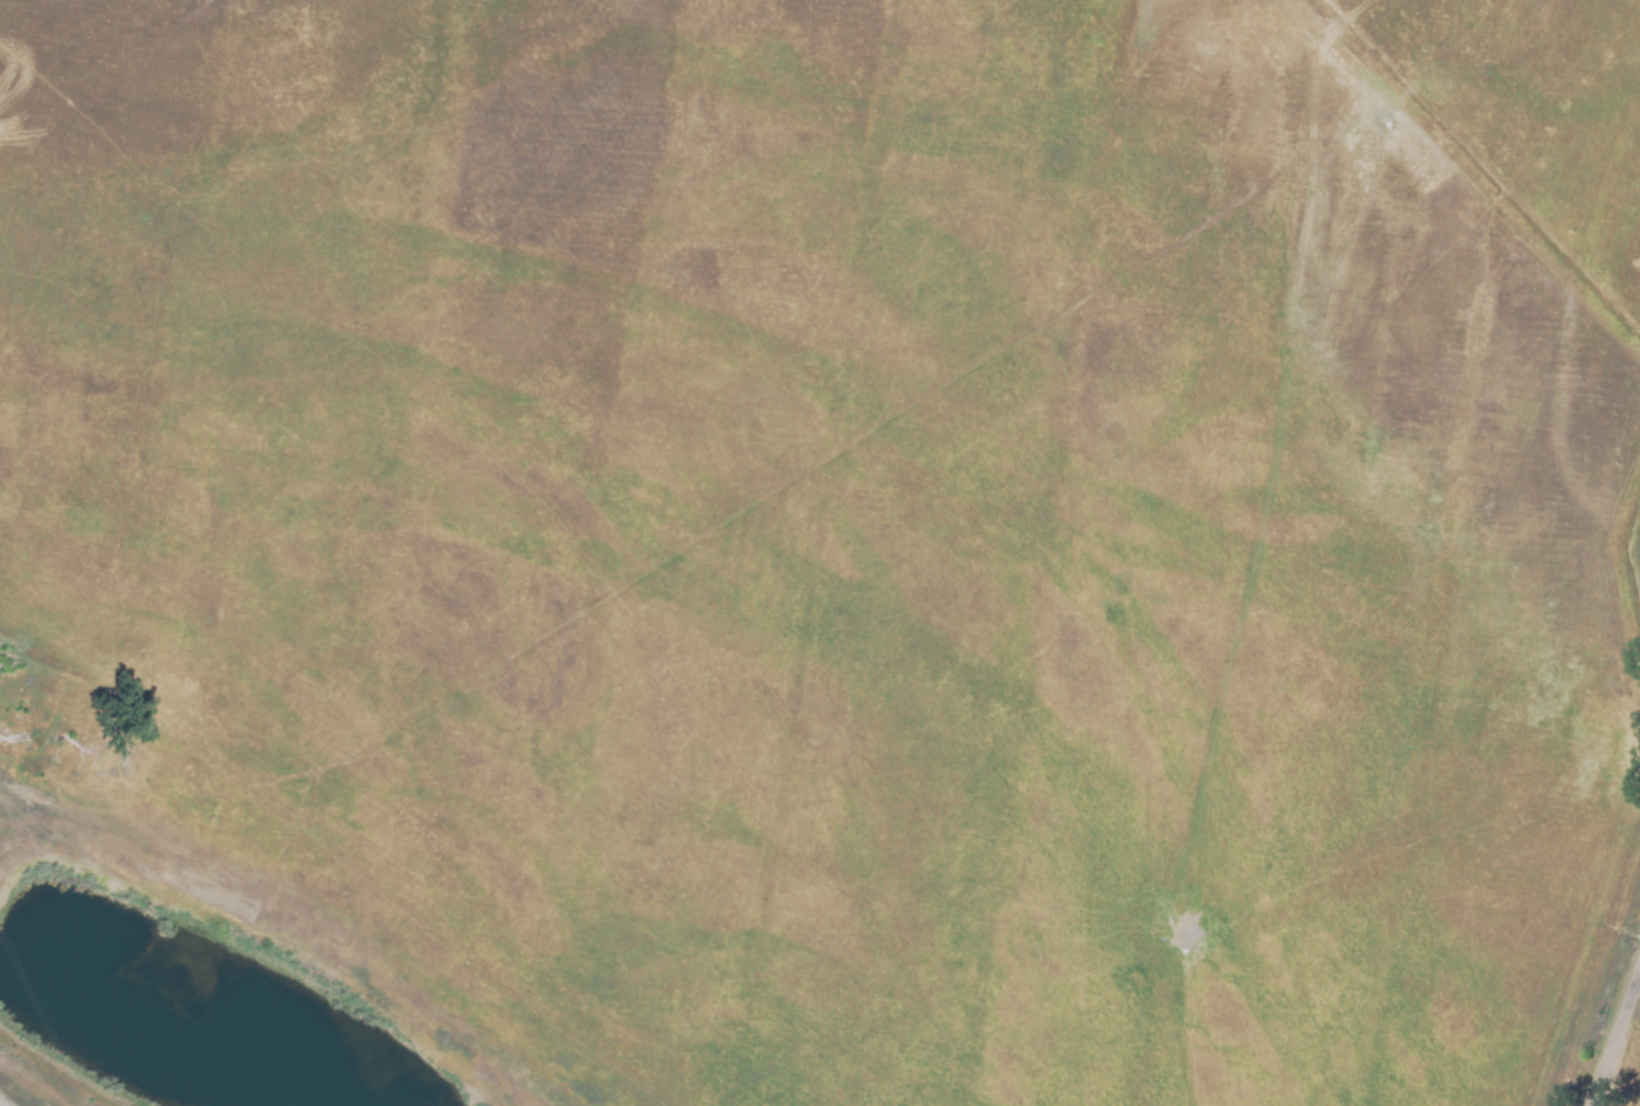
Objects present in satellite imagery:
road: (1614, 1032)

